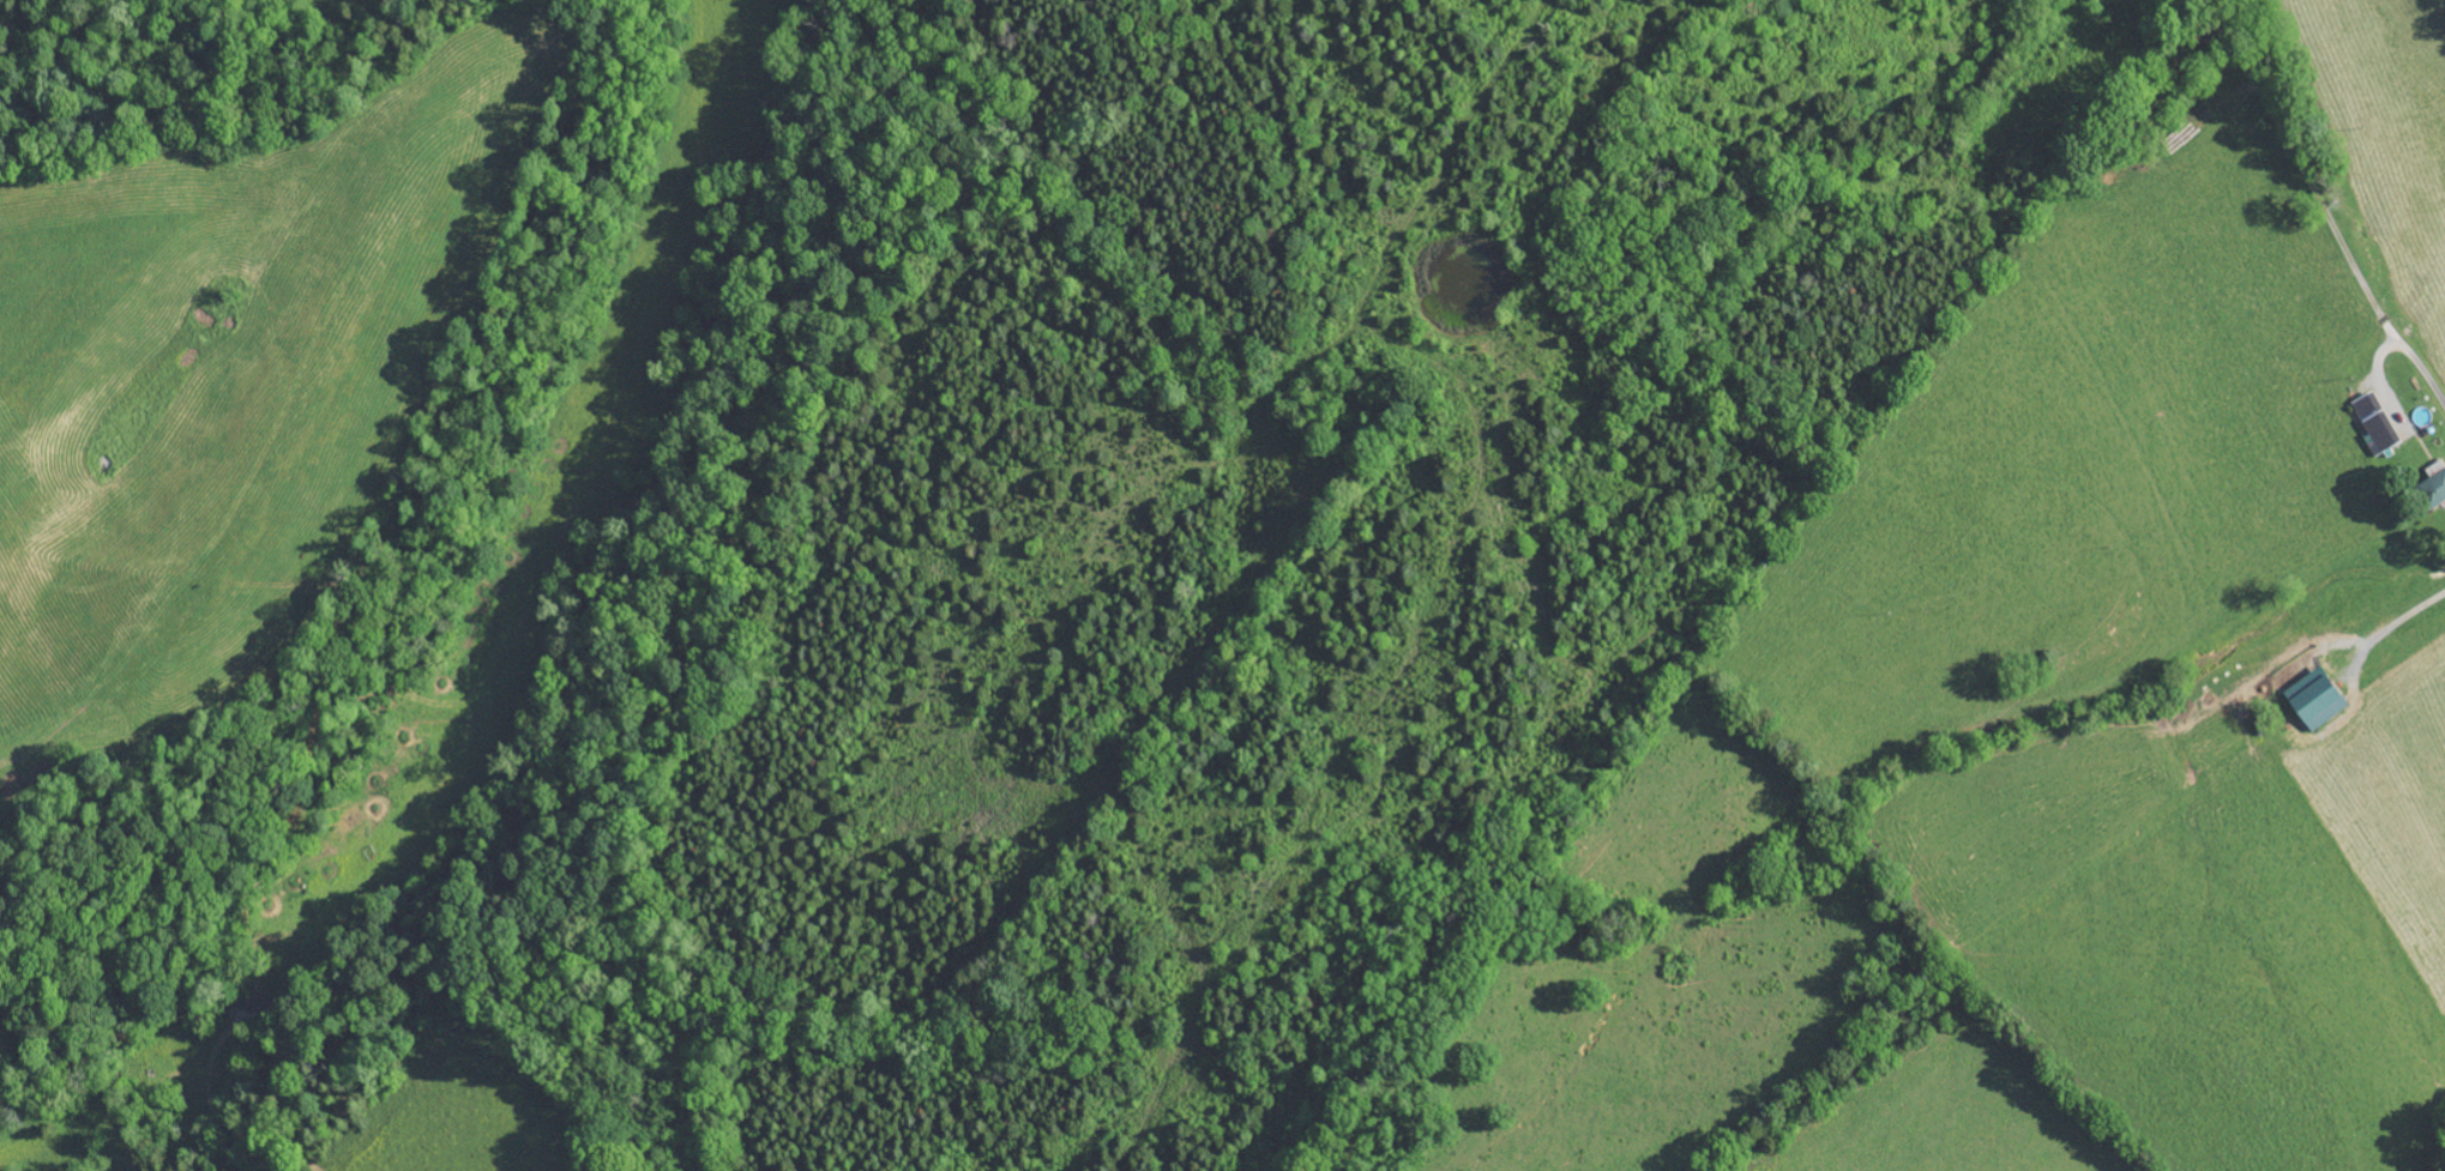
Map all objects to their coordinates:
road: (2323, 212)
building: (2378, 422)
building: (2437, 483)
road: (2409, 588)
building: (2319, 698)

